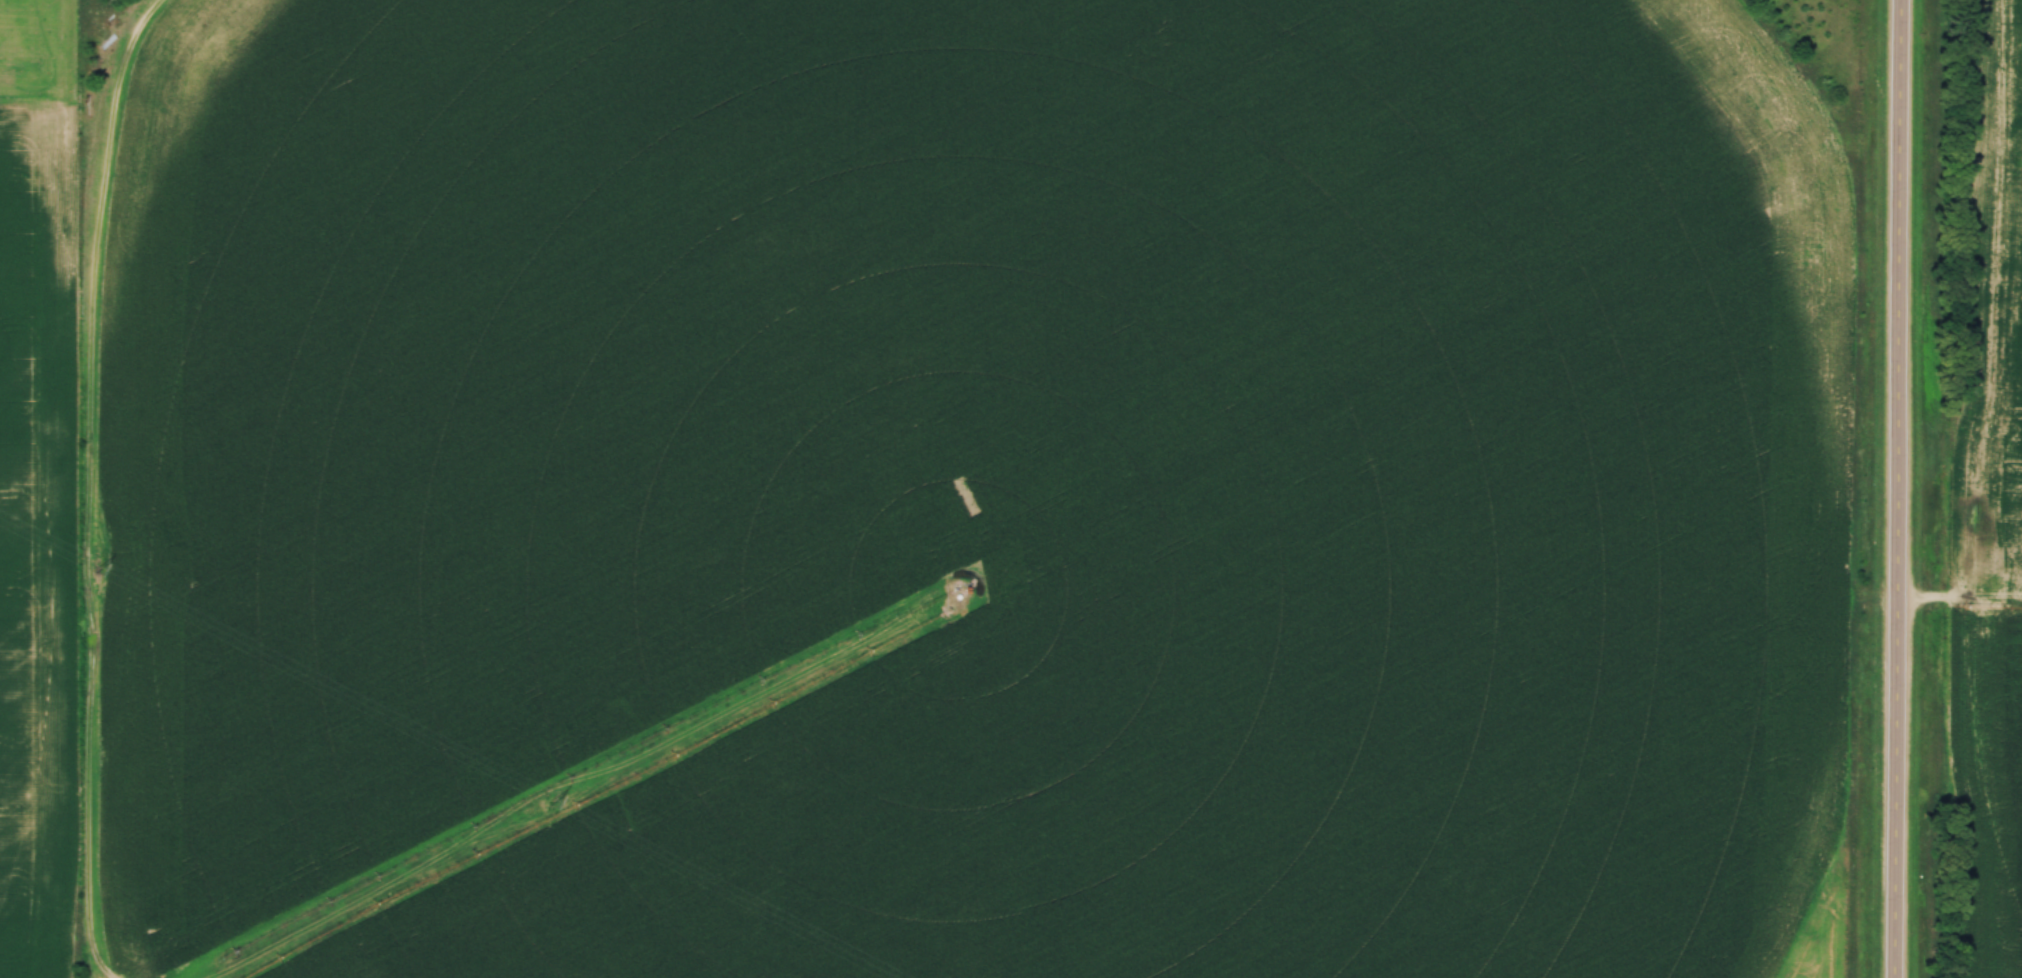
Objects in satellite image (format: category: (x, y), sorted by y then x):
road: (1897, 488)

